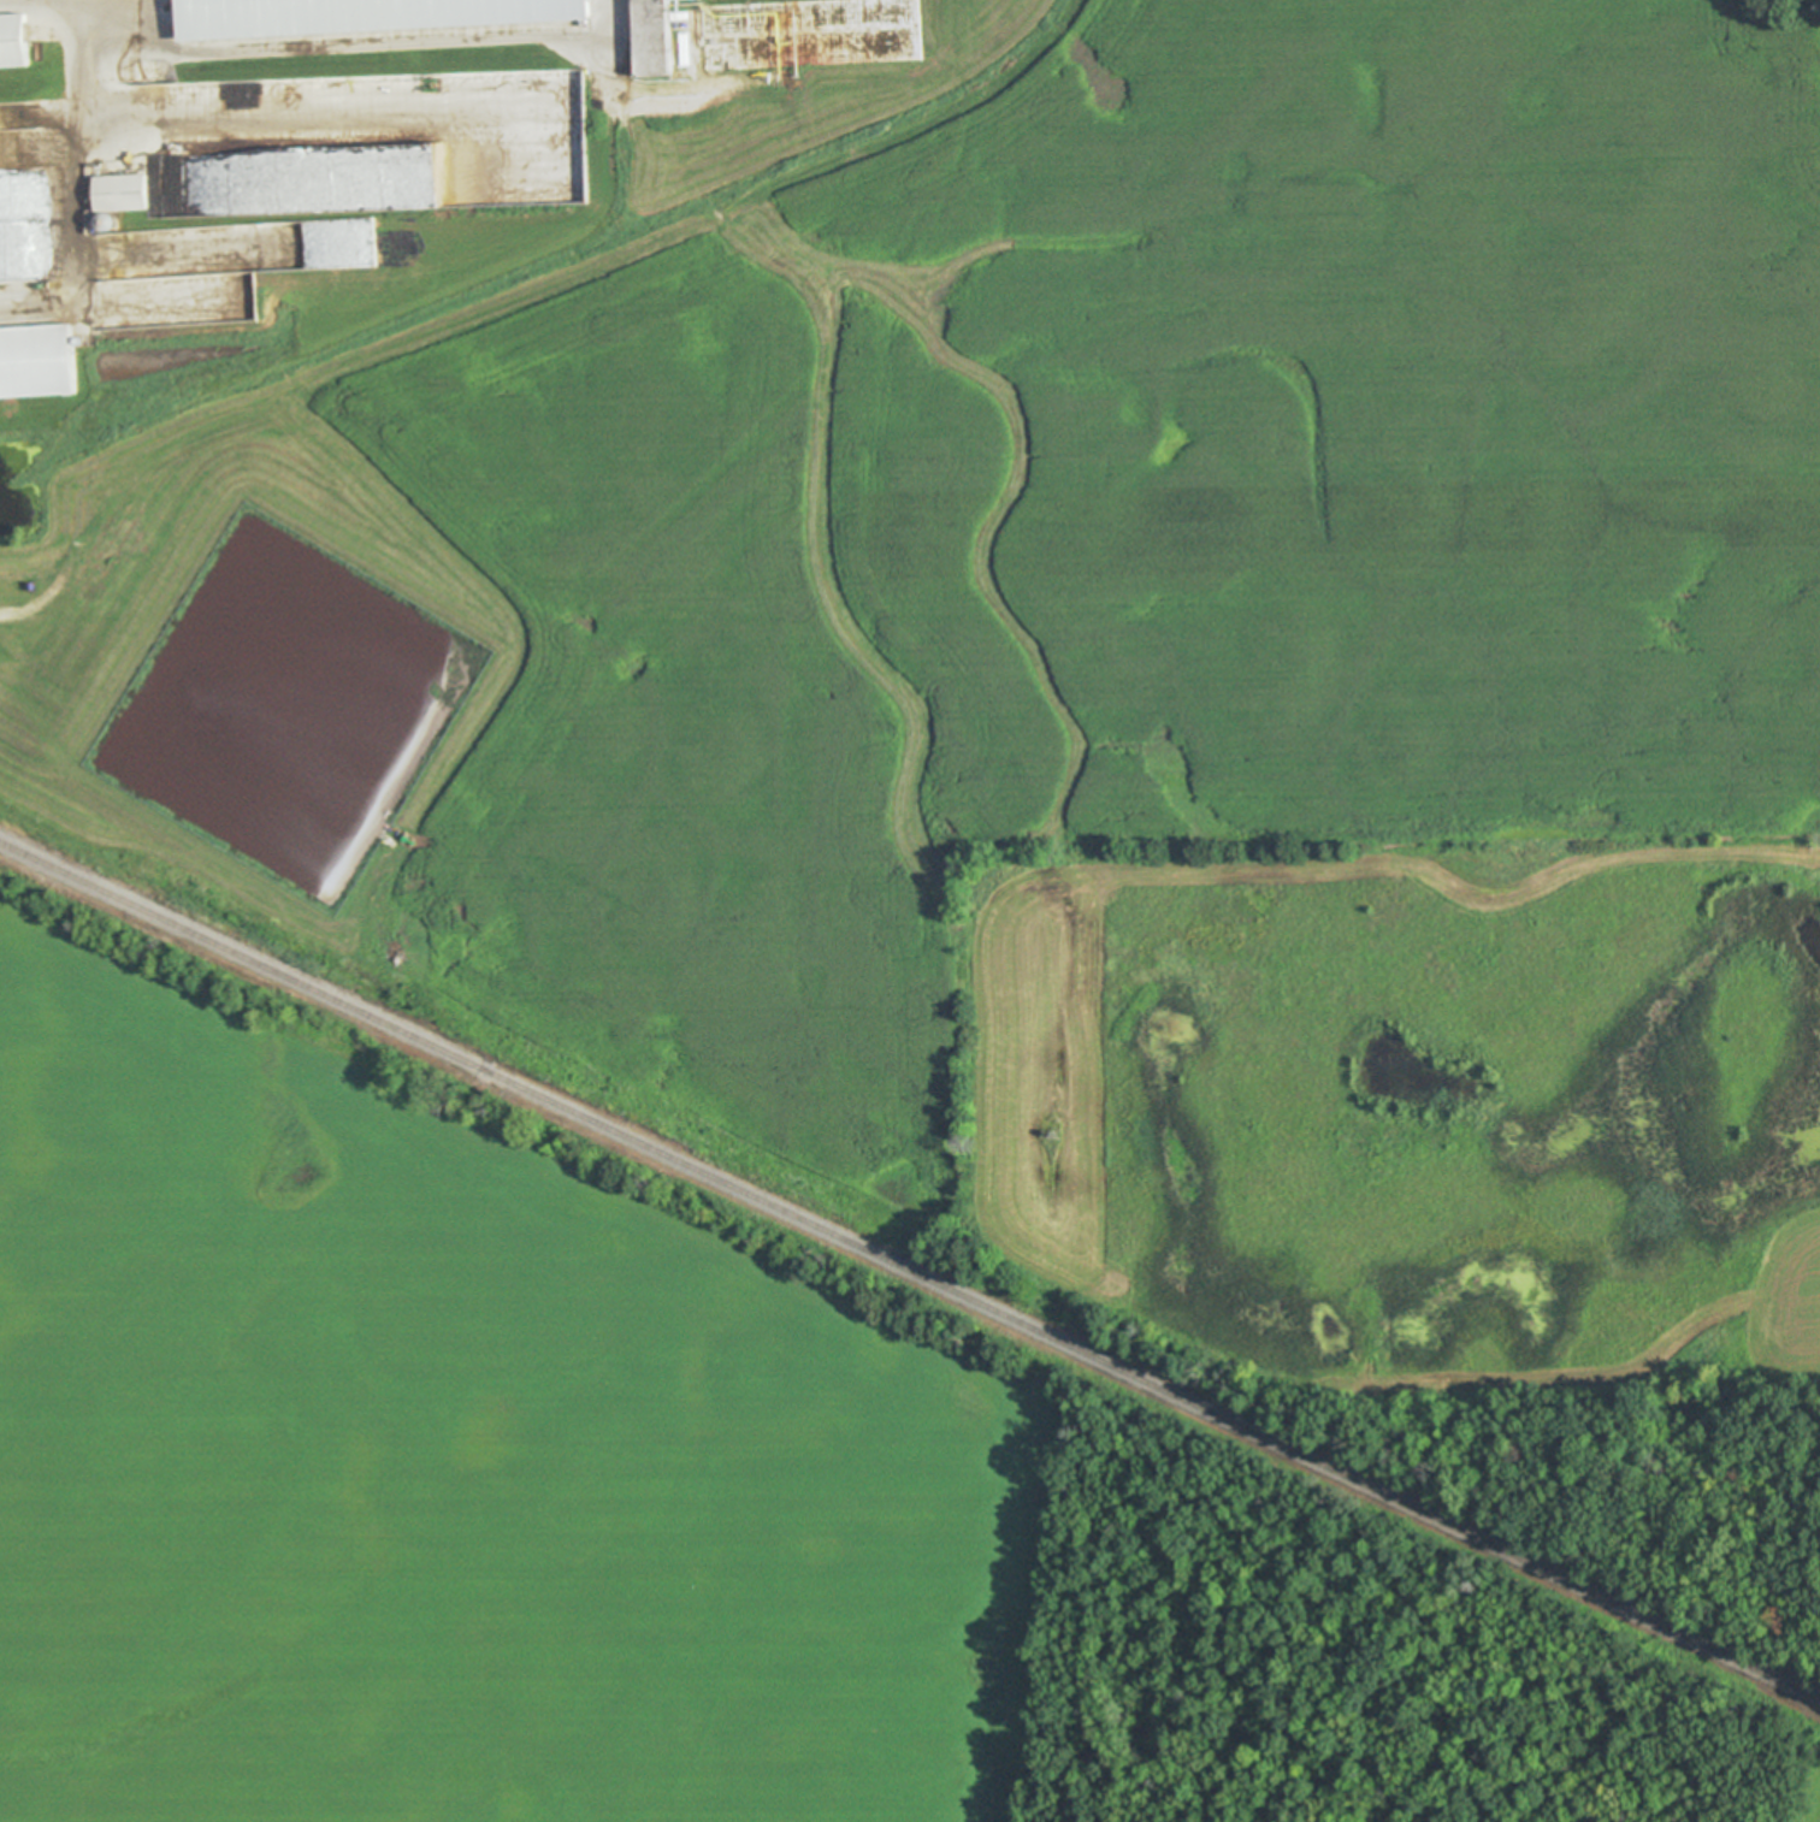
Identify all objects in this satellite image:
building: (376, 14)
building: (674, 37)
road: (367, 39)
building: (650, 39)
building: (20, 40)
road: (82, 181)
building: (130, 193)
building: (42, 361)
building: (301, 634)
railway: (910, 1270)

